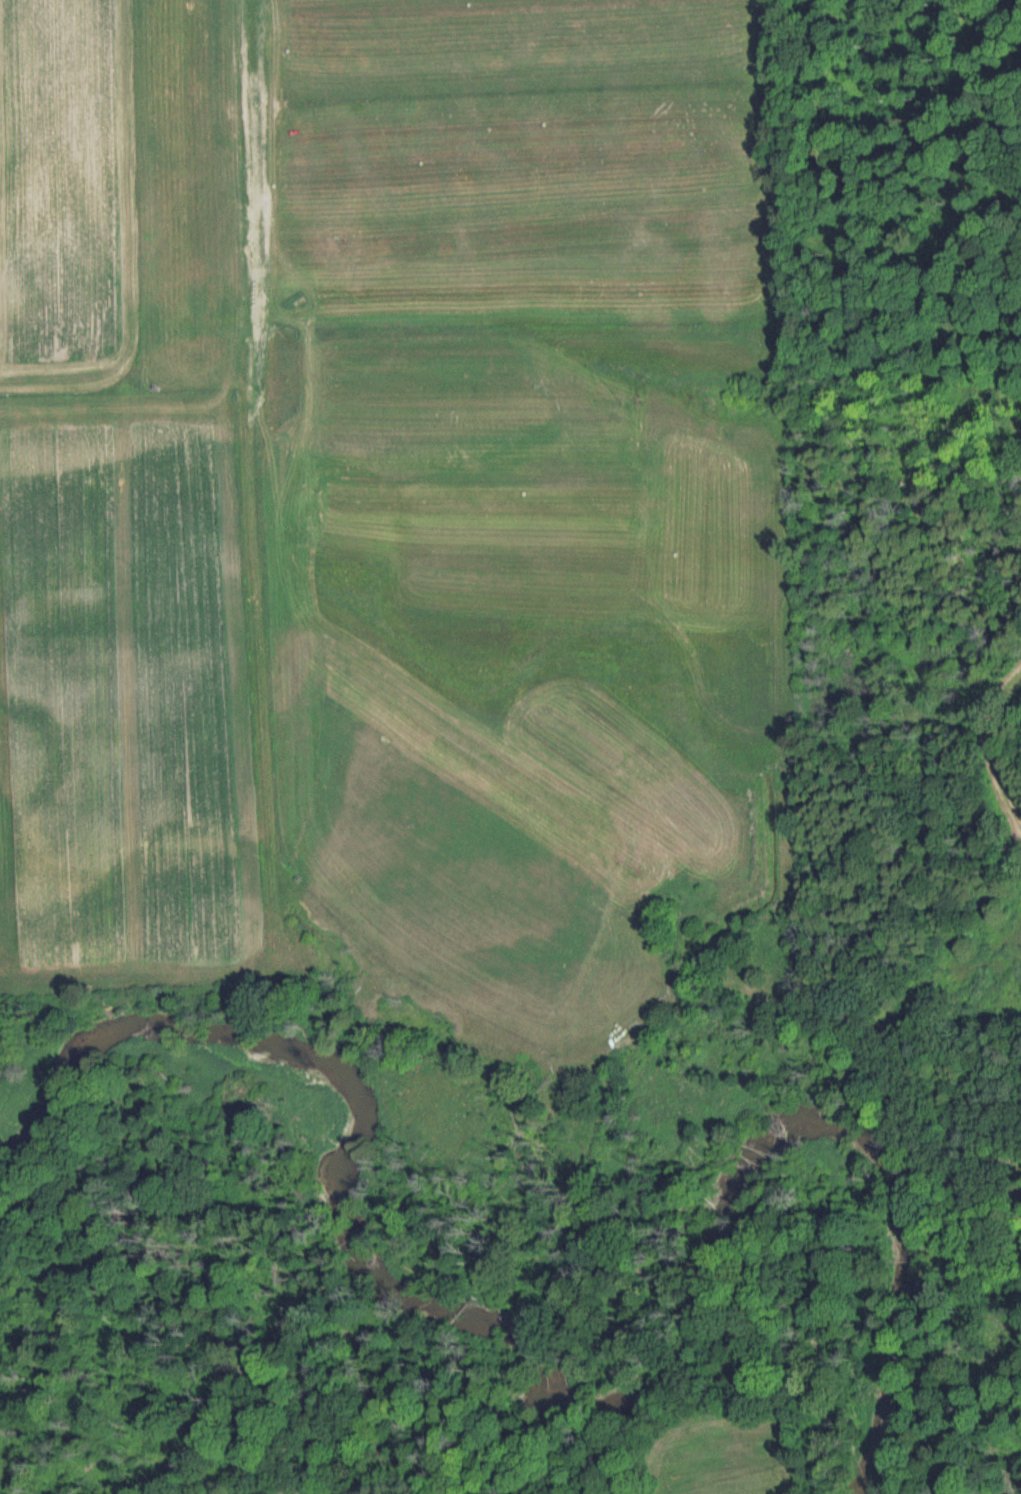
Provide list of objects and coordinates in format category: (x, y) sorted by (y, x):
road: (999, 747)

